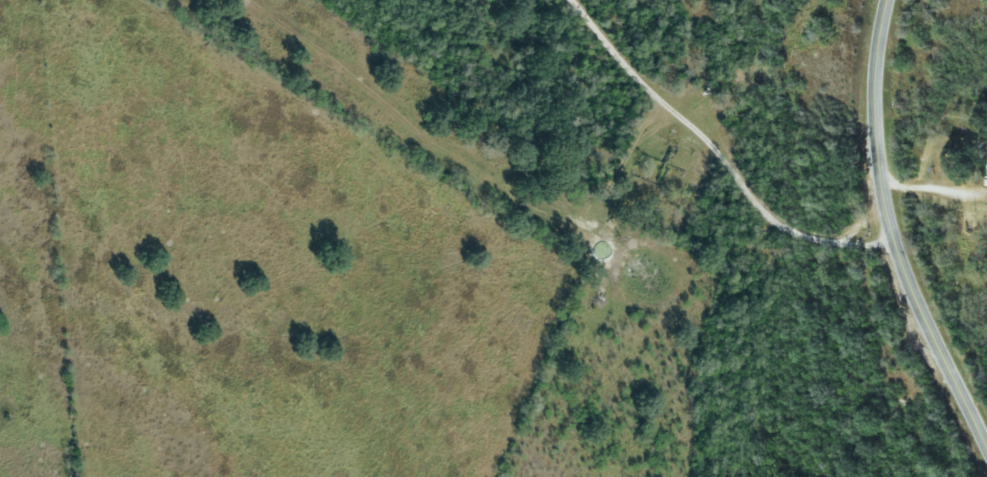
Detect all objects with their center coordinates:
road: (710, 140)
road: (893, 231)

